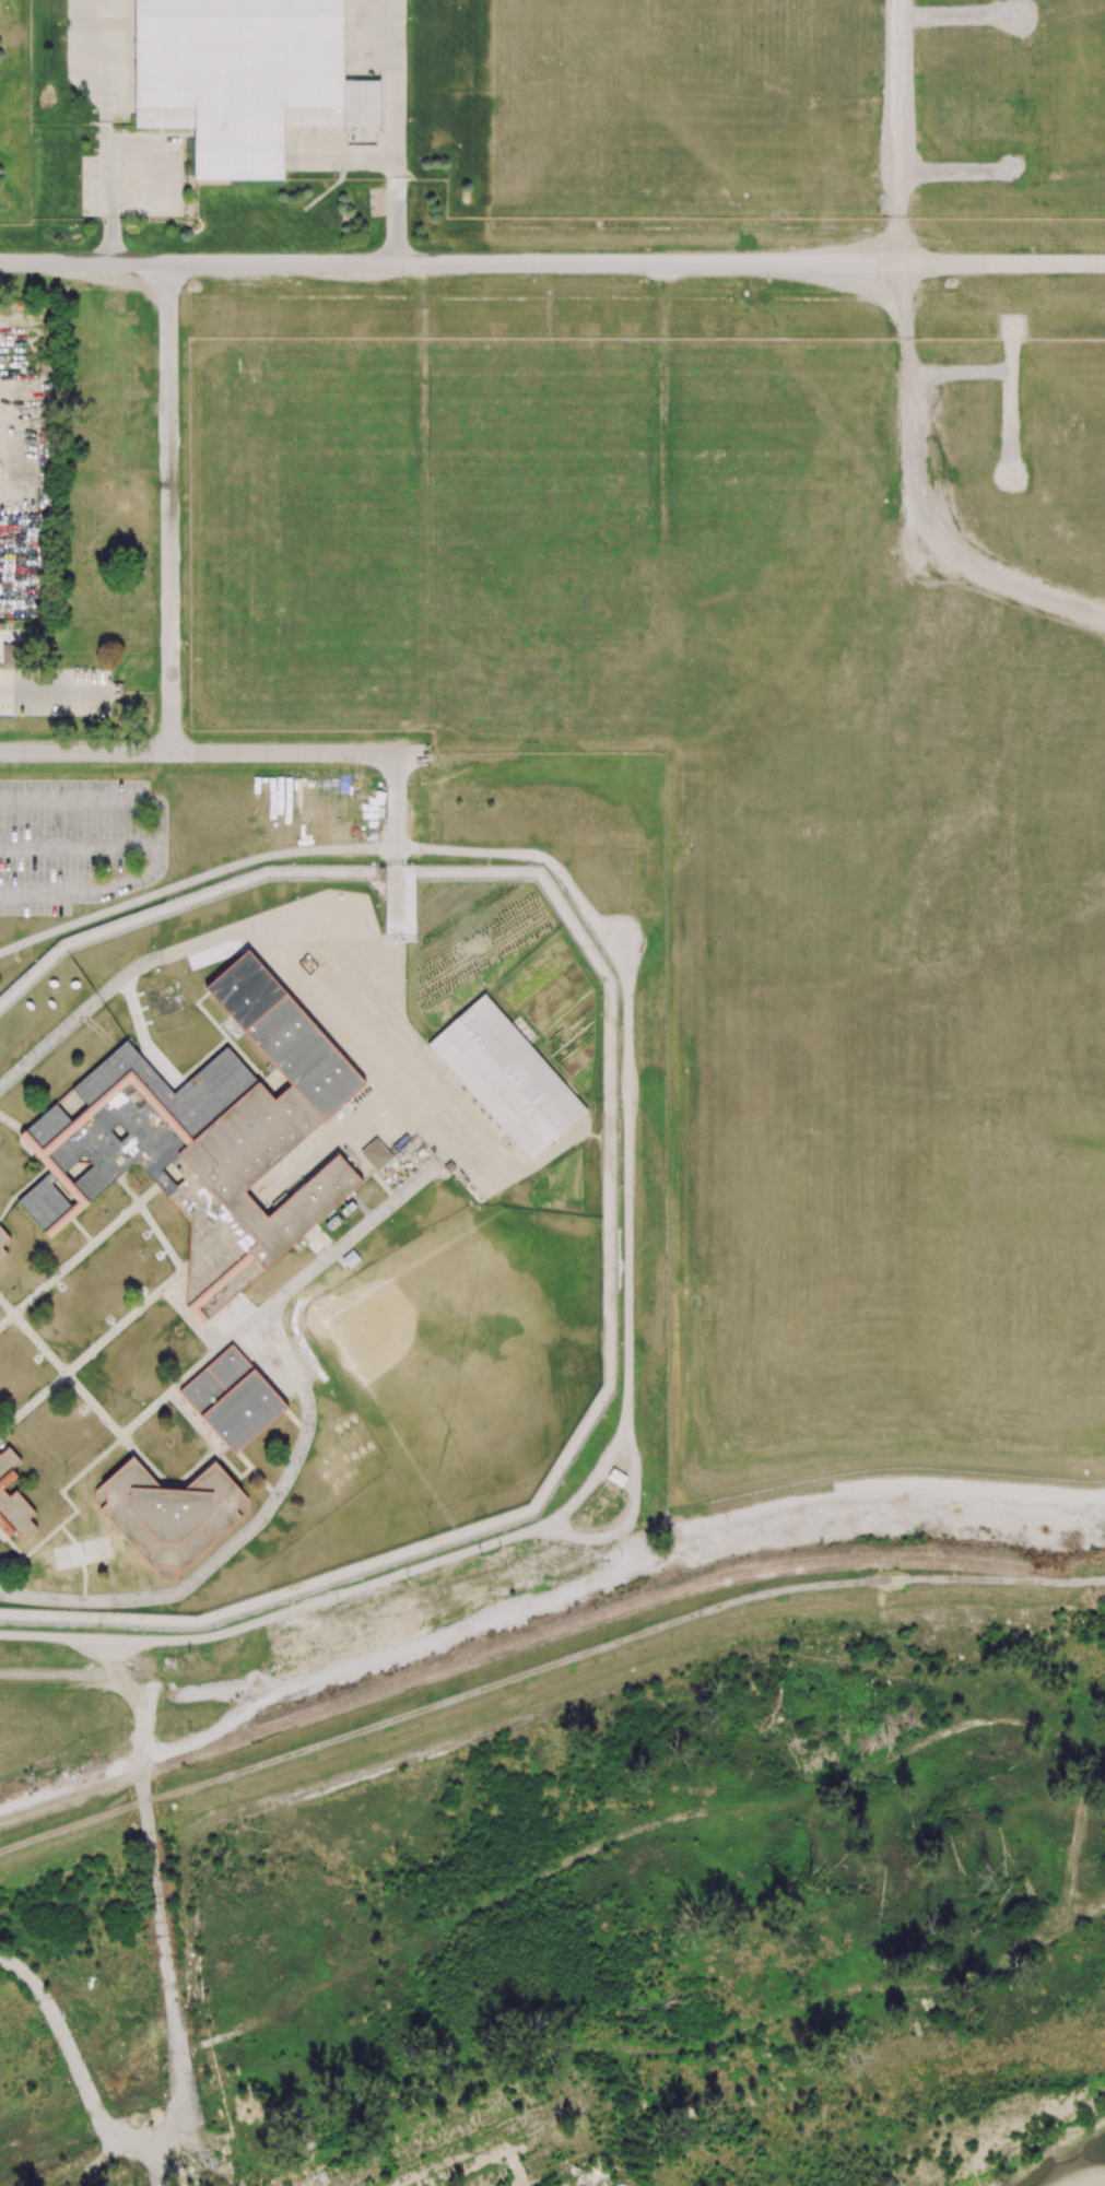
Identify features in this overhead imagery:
building: (245, 79)
road: (110, 130)
road: (397, 130)
road: (902, 131)
airport: (580, 162)
road: (451, 262)
road: (1004, 263)
road: (961, 486)
road: (168, 507)
road: (910, 632)
building: (12, 655)
road: (46, 690)
parking lot: (55, 692)
road: (212, 752)
road: (161, 837)
parking lot: (77, 842)
road: (81, 846)
road: (396, 853)
road: (185, 948)
building: (506, 1078)
road: (12, 1121)
building: (207, 1138)
building: (376, 1154)
road: (20, 1189)
road: (627, 1189)
road: (127, 1190)
road: (81, 1231)
building: (3, 1243)
road: (79, 1254)
road: (278, 1333)
road: (93, 1349)
park: (470, 1355)
road: (310, 1386)
building: (233, 1399)
road: (108, 1422)
road: (96, 1460)
building: (13, 1497)
building: (169, 1514)
road: (627, 1516)
road: (0, 1532)
railway: (1103, 1585)
railway: (526, 1639)
road: (997, 1731)
road: (143, 1802)
park: (603, 1931)
road: (62, 2033)

